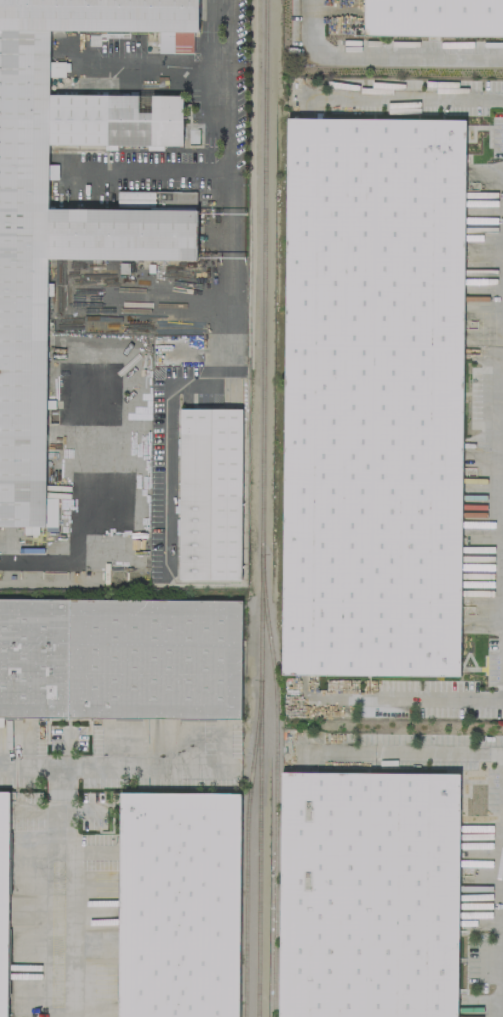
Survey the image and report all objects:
building: (432, 17)
road: (381, 56)
road: (401, 99)
road: (227, 158)
building: (134, 197)
building: (69, 208)
building: (374, 385)
building: (243, 480)
building: (210, 493)
road: (90, 506)
railway: (259, 508)
building: (120, 656)
road: (395, 700)
railway: (253, 737)
road: (418, 754)
road: (77, 764)
railway: (274, 794)
road: (56, 890)
building: (367, 890)
railway: (244, 895)
building: (3, 896)
building: (180, 899)

